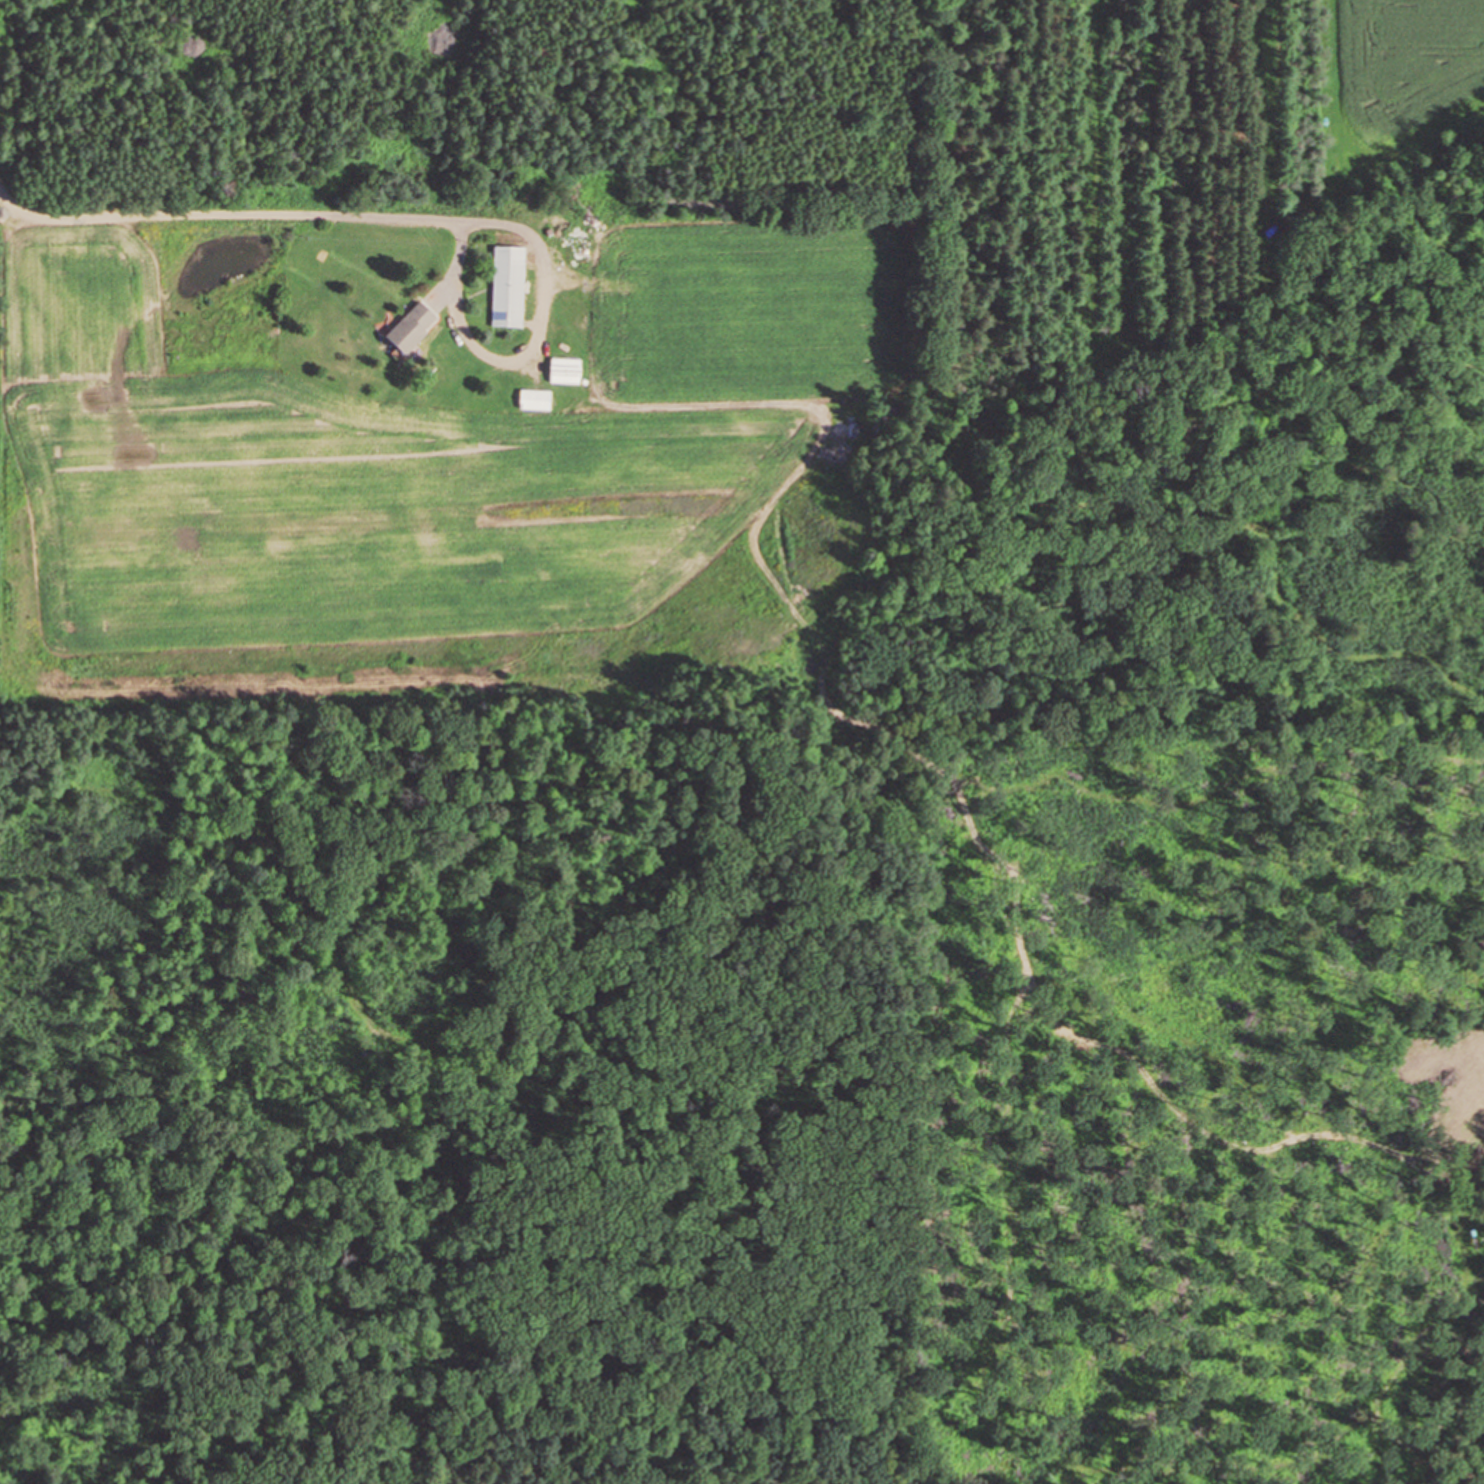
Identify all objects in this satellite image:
building: (507, 286)
building: (410, 327)
building: (564, 371)
building: (534, 399)

